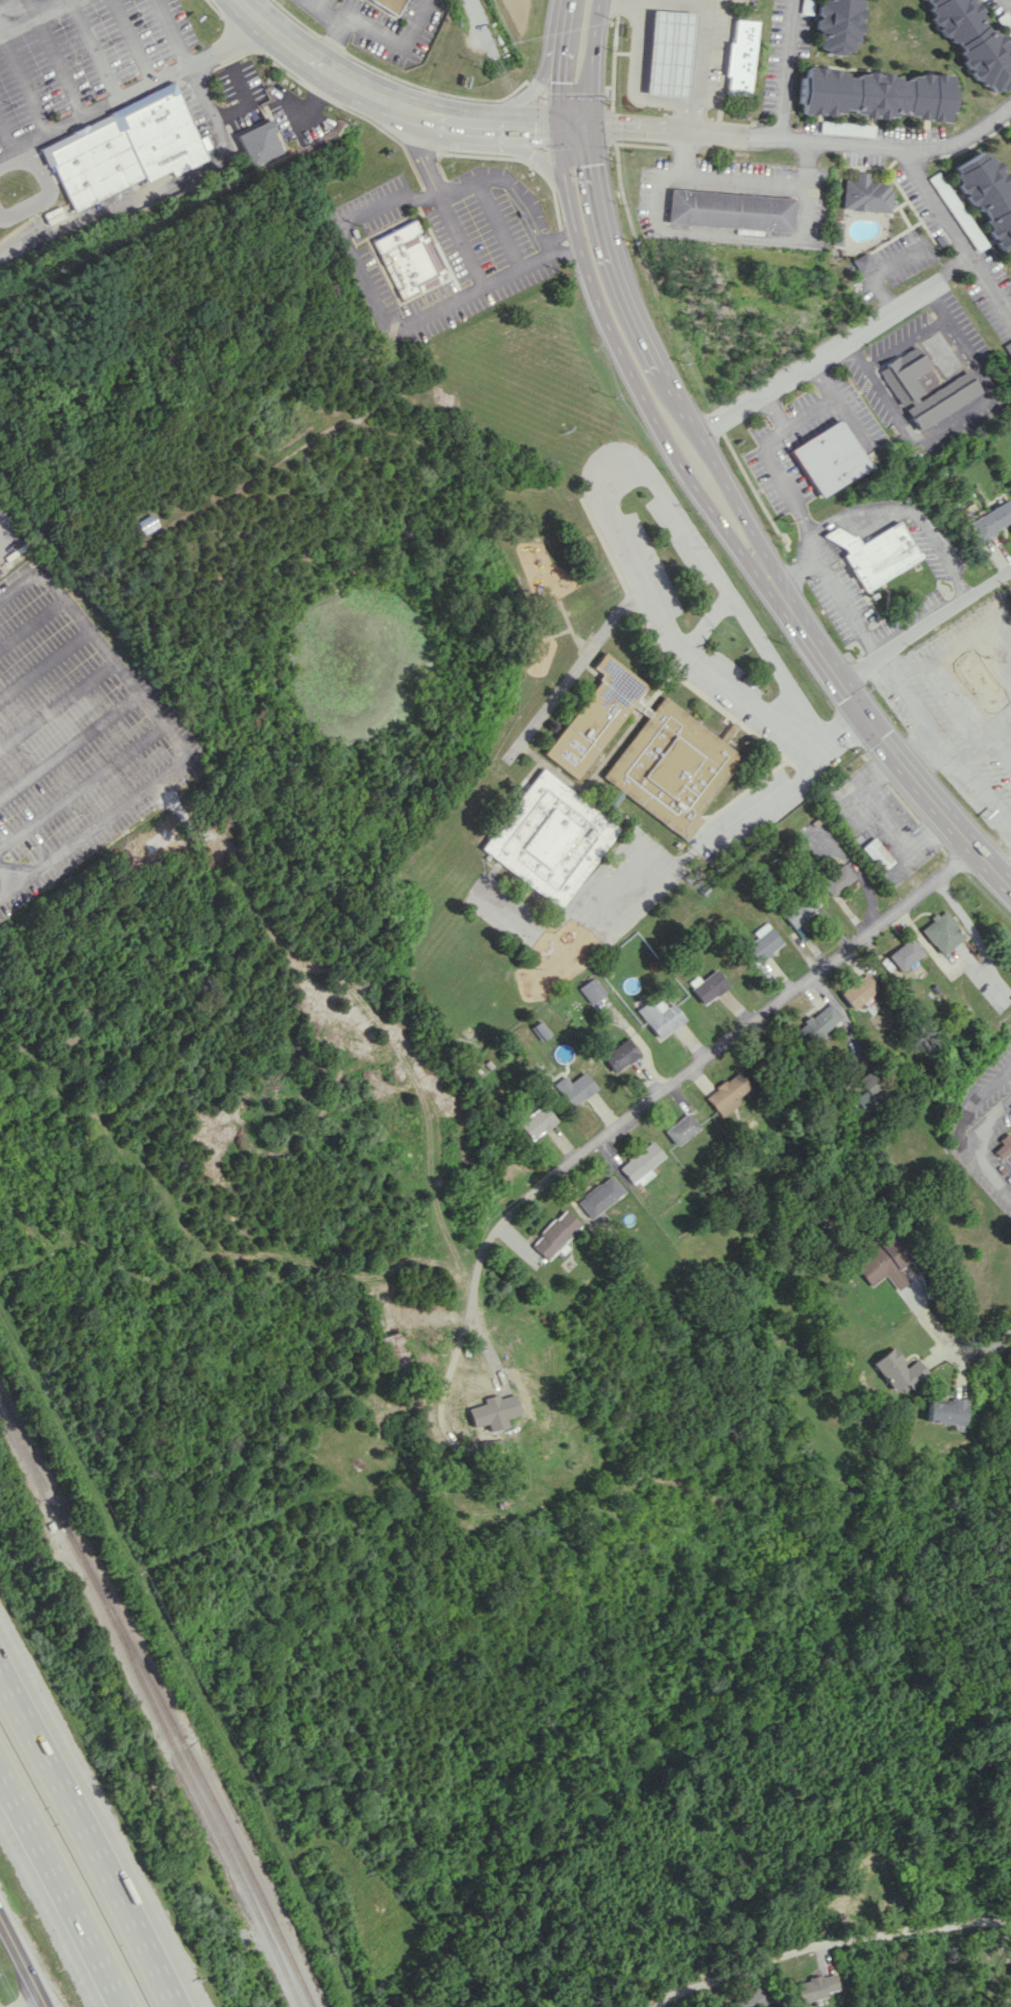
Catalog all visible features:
road: (638, 0)
road: (1010, 0)
building: (804, 1)
building: (390, 5)
road: (42, 6)
road: (480, 12)
building: (835, 24)
road: (375, 31)
road: (168, 37)
building: (974, 41)
road: (131, 44)
road: (328, 44)
road: (92, 52)
building: (665, 52)
building: (735, 58)
road: (55, 59)
road: (693, 61)
road: (590, 62)
road: (557, 63)
road: (322, 68)
road: (788, 70)
traffic signals: (556, 82)
road: (25, 88)
road: (526, 94)
building: (875, 94)
road: (130, 99)
road: (247, 104)
road: (505, 125)
traffic signals: (534, 126)
traffic signals: (619, 126)
building: (163, 134)
road: (9, 142)
building: (260, 142)
road: (807, 142)
road: (526, 147)
road: (420, 157)
traffic signals: (595, 164)
road: (740, 178)
road: (157, 193)
building: (867, 194)
road: (46, 197)
building: (989, 198)
building: (730, 210)
building: (957, 210)
road: (957, 231)
building: (839, 232)
road: (718, 234)
building: (940, 239)
road: (348, 254)
building: (409, 260)
building: (864, 262)
road: (903, 340)
road: (836, 346)
building: (1007, 347)
road: (654, 349)
road: (622, 359)
building: (902, 374)
building: (939, 400)
road: (838, 403)
road: (772, 411)
road: (953, 419)
building: (829, 458)
road: (665, 492)
road: (796, 513)
building: (990, 519)
building: (147, 523)
road: (920, 525)
road: (834, 536)
road: (823, 546)
building: (874, 553)
road: (795, 567)
road: (34, 626)
road: (925, 629)
road: (954, 646)
road: (45, 665)
building: (978, 681)
road: (954, 701)
road: (57, 705)
traffic signals: (864, 714)
road: (161, 725)
road: (875, 730)
road: (984, 737)
road: (69, 747)
road: (938, 747)
road: (917, 751)
road: (998, 753)
building: (665, 783)
road: (81, 785)
road: (772, 791)
road: (858, 803)
road: (890, 815)
building: (875, 854)
road: (6, 873)
road: (1006, 873)
building: (835, 879)
road: (6, 886)
building: (795, 911)
road: (966, 921)
building: (798, 931)
building: (941, 932)
building: (760, 942)
road: (931, 951)
building: (903, 953)
road: (992, 982)
building: (705, 985)
building: (592, 990)
building: (857, 990)
road: (763, 1009)
building: (659, 1016)
building: (817, 1022)
building: (540, 1030)
building: (618, 1054)
building: (573, 1088)
building: (871, 1089)
building: (726, 1093)
road: (966, 1107)
building: (536, 1121)
road: (985, 1122)
building: (680, 1128)
building: (1002, 1147)
building: (640, 1163)
road: (995, 1176)
building: (599, 1196)
road: (490, 1233)
building: (554, 1234)
building: (884, 1263)
road: (949, 1346)
building: (395, 1350)
building: (896, 1370)
building: (491, 1410)
building: (946, 1411)
railway: (154, 1703)
road: (88, 1839)
road: (60, 1891)
building: (876, 1894)
road: (918, 1929)
road: (18, 1968)
road: (739, 1972)
building: (1009, 1972)
building: (814, 1987)
building: (750, 1998)
road: (26, 2003)

